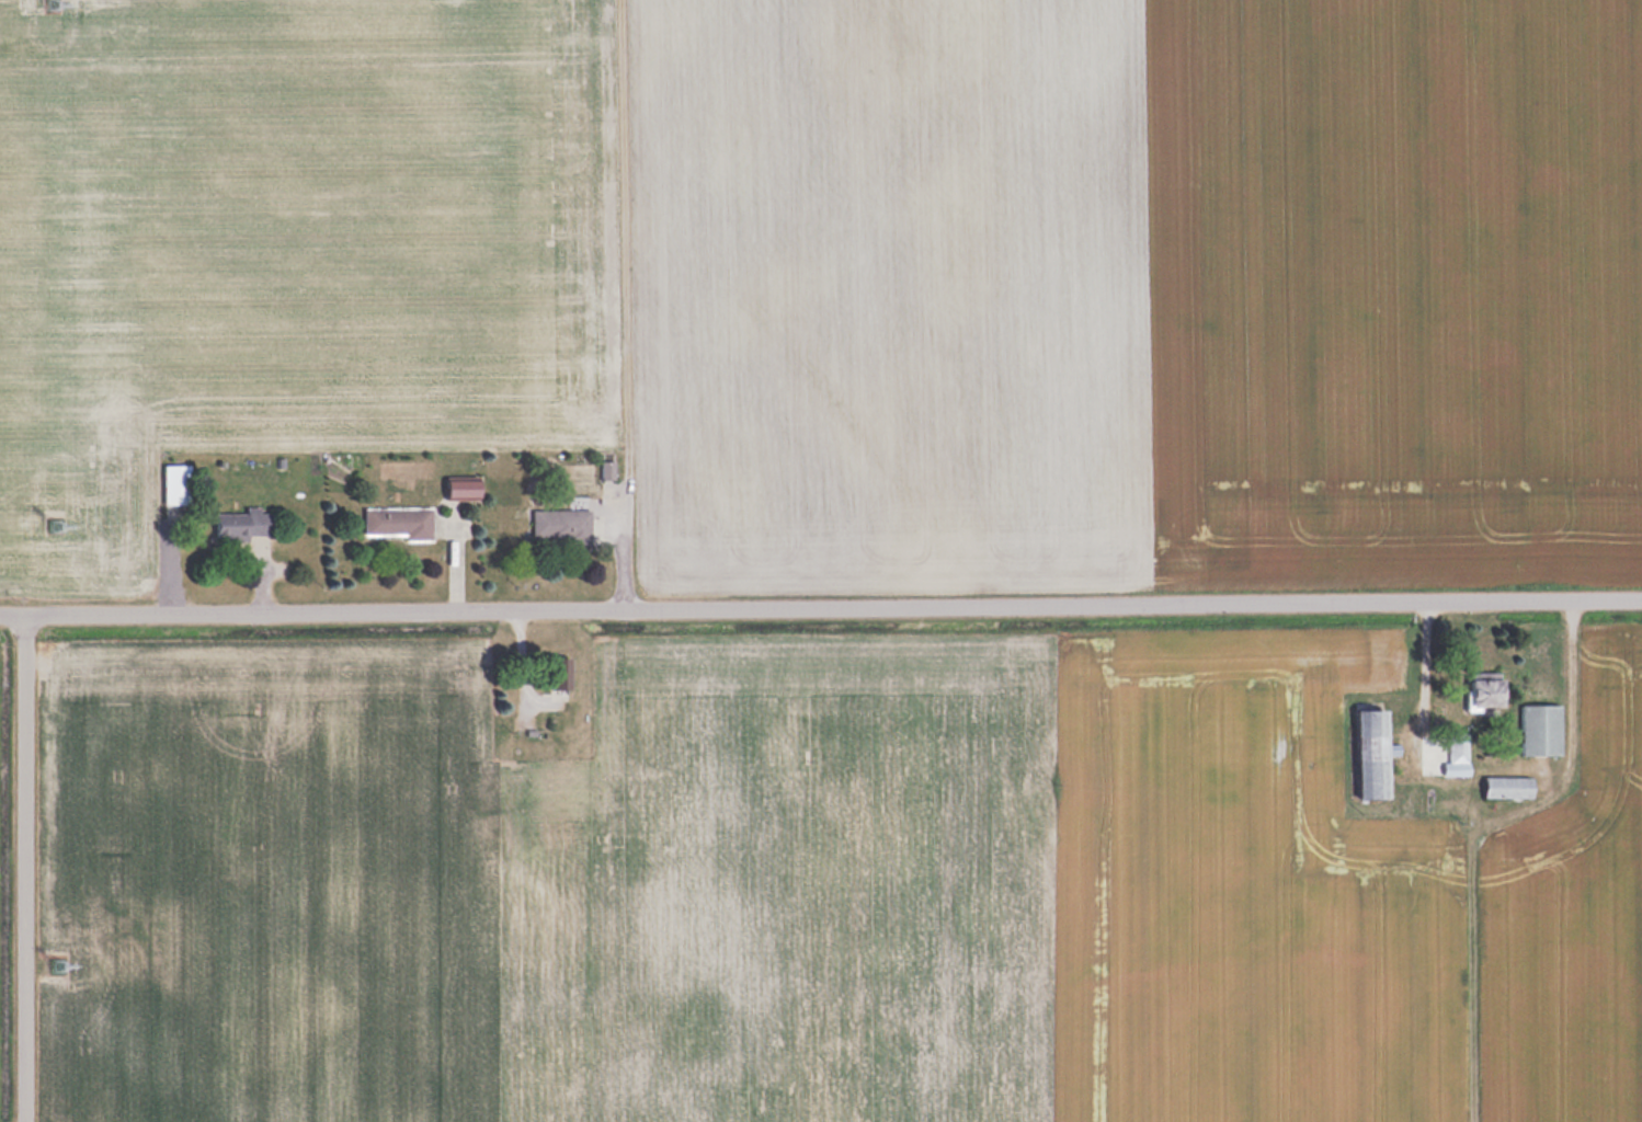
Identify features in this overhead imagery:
power tower: (54, 4)
building: (463, 490)
building: (176, 491)
building: (398, 522)
building: (244, 525)
power tower: (55, 526)
building: (561, 526)
road: (821, 614)
building: (560, 671)
building: (1485, 691)
building: (1540, 728)
building: (1457, 749)
building: (1372, 751)
building: (1507, 785)
road: (1496, 812)
road: (28, 872)
power tower: (58, 966)

